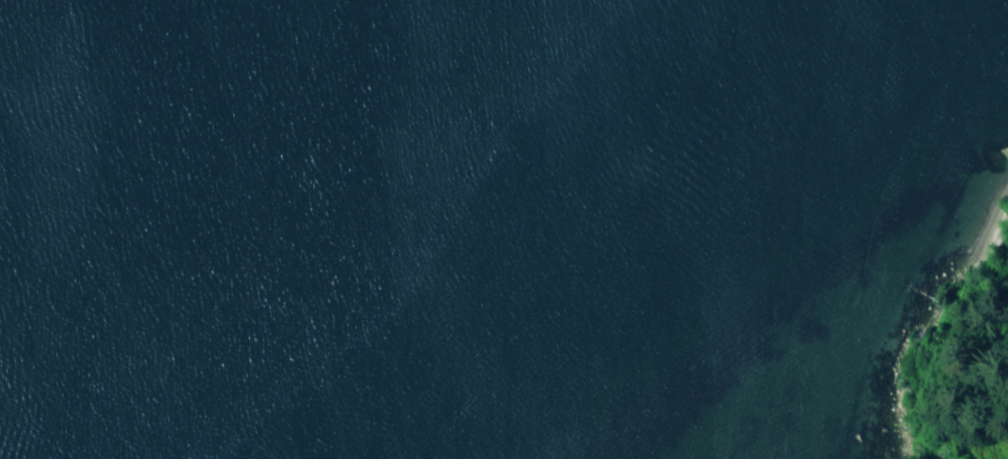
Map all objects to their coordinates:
river: (138, 101)

